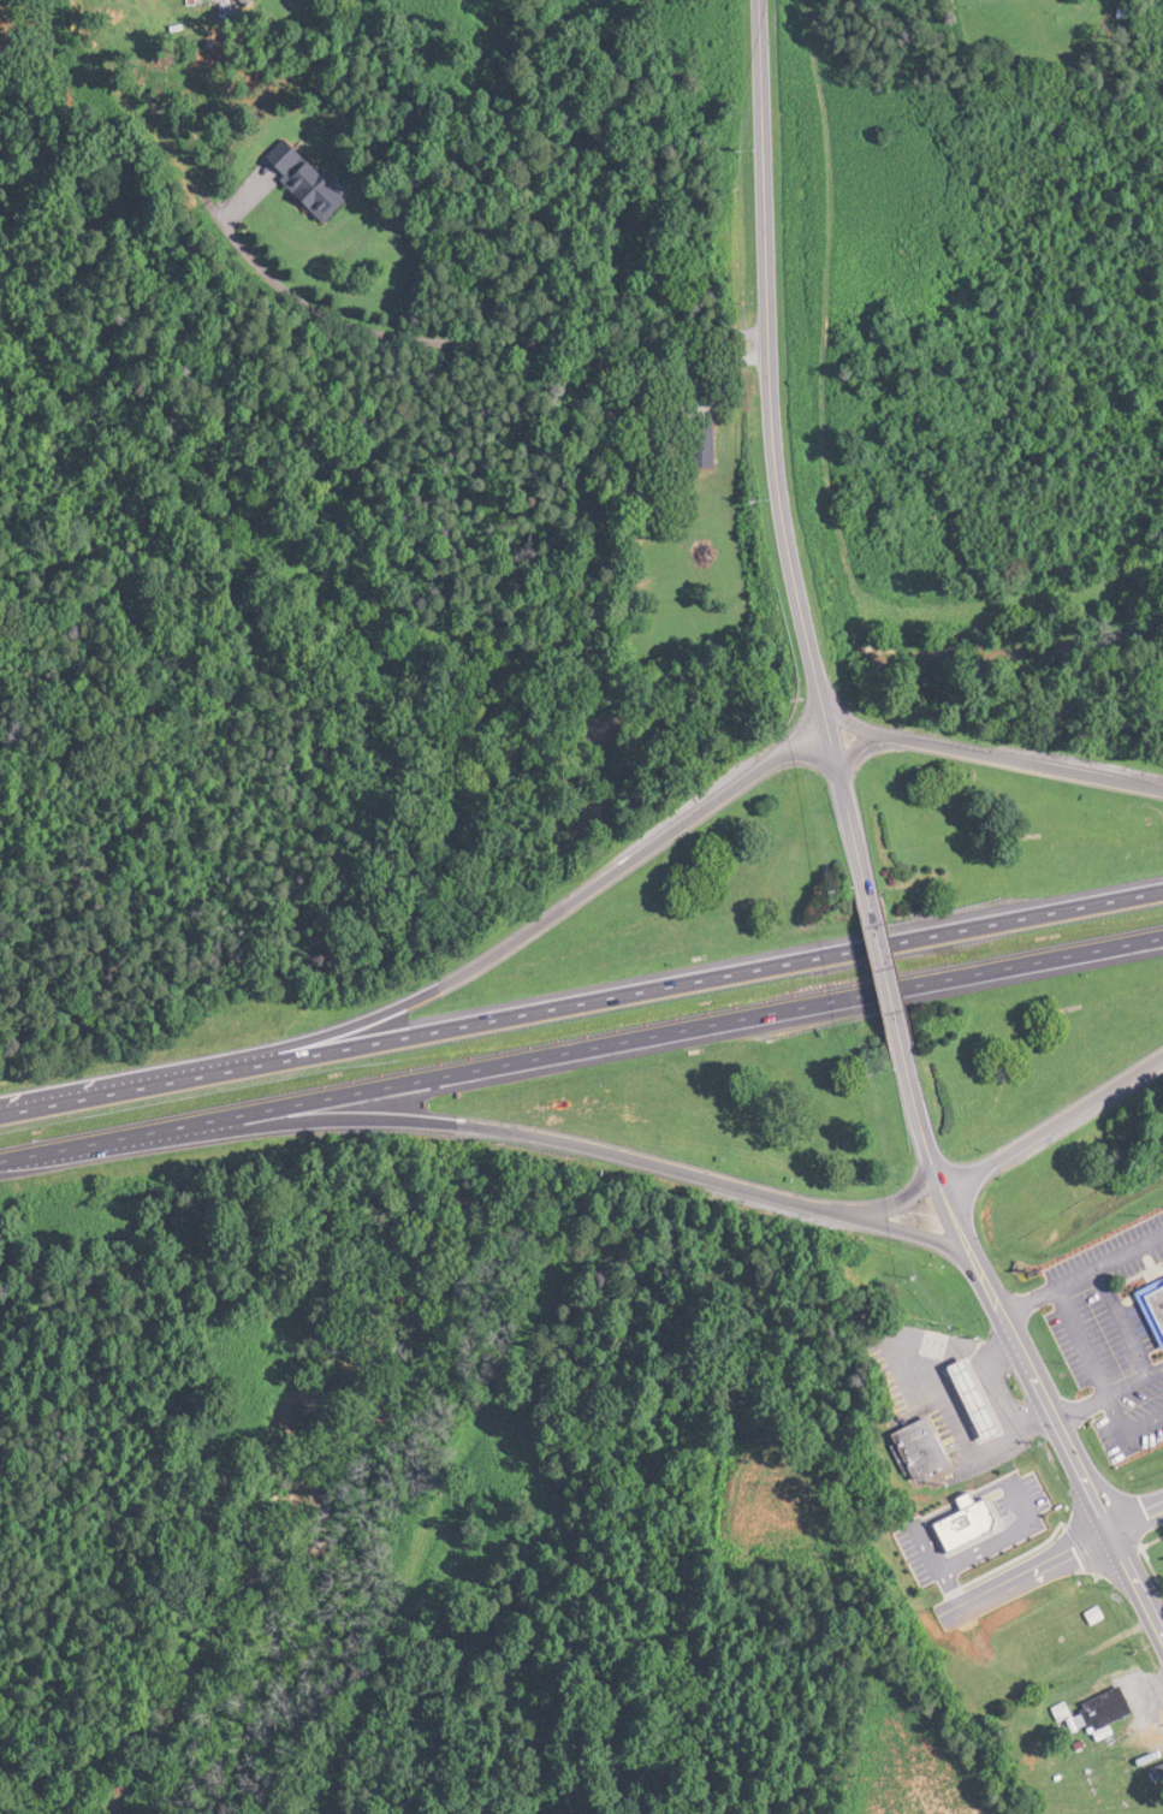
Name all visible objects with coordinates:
building: (319, 185)
road: (765, 244)
road: (337, 327)
road: (821, 695)
road: (996, 757)
road: (443, 984)
road: (877, 986)
road: (581, 1002)
road: (581, 1049)
road: (1052, 1124)
road: (541, 1136)
road: (897, 1203)
road: (1081, 1274)
building: (1147, 1310)
road: (1123, 1322)
road: (1080, 1342)
road: (1022, 1360)
building: (981, 1400)
road: (1109, 1404)
road: (1080, 1410)
building: (925, 1448)
road: (1134, 1514)
road: (997, 1587)
building: (1102, 1713)
building: (1151, 1773)

